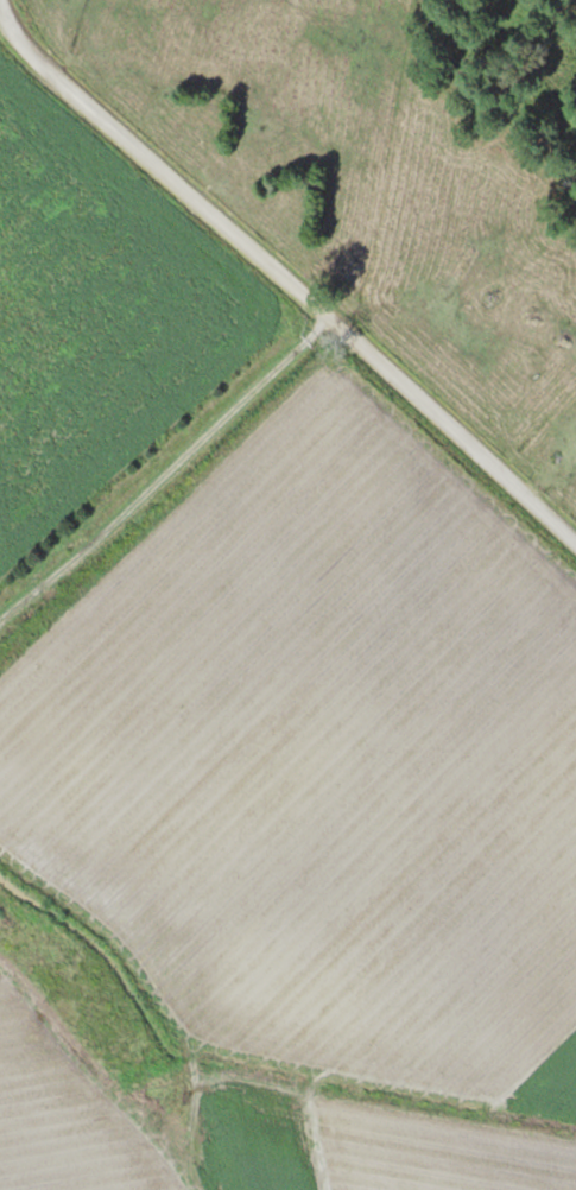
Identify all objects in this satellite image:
road: (285, 281)
road: (164, 467)

